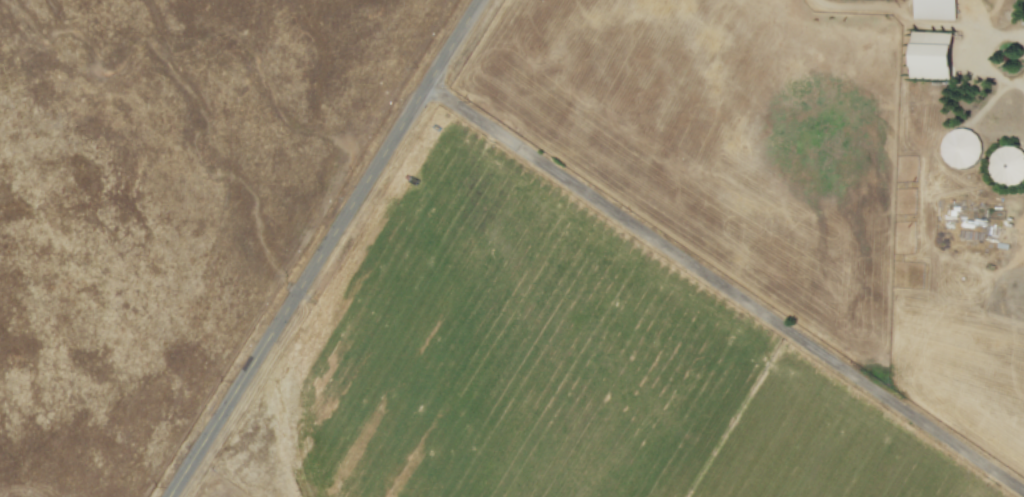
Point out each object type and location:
building: (934, 10)
building: (932, 55)
building: (960, 148)
building: (1007, 164)
road: (325, 249)
road: (725, 289)

